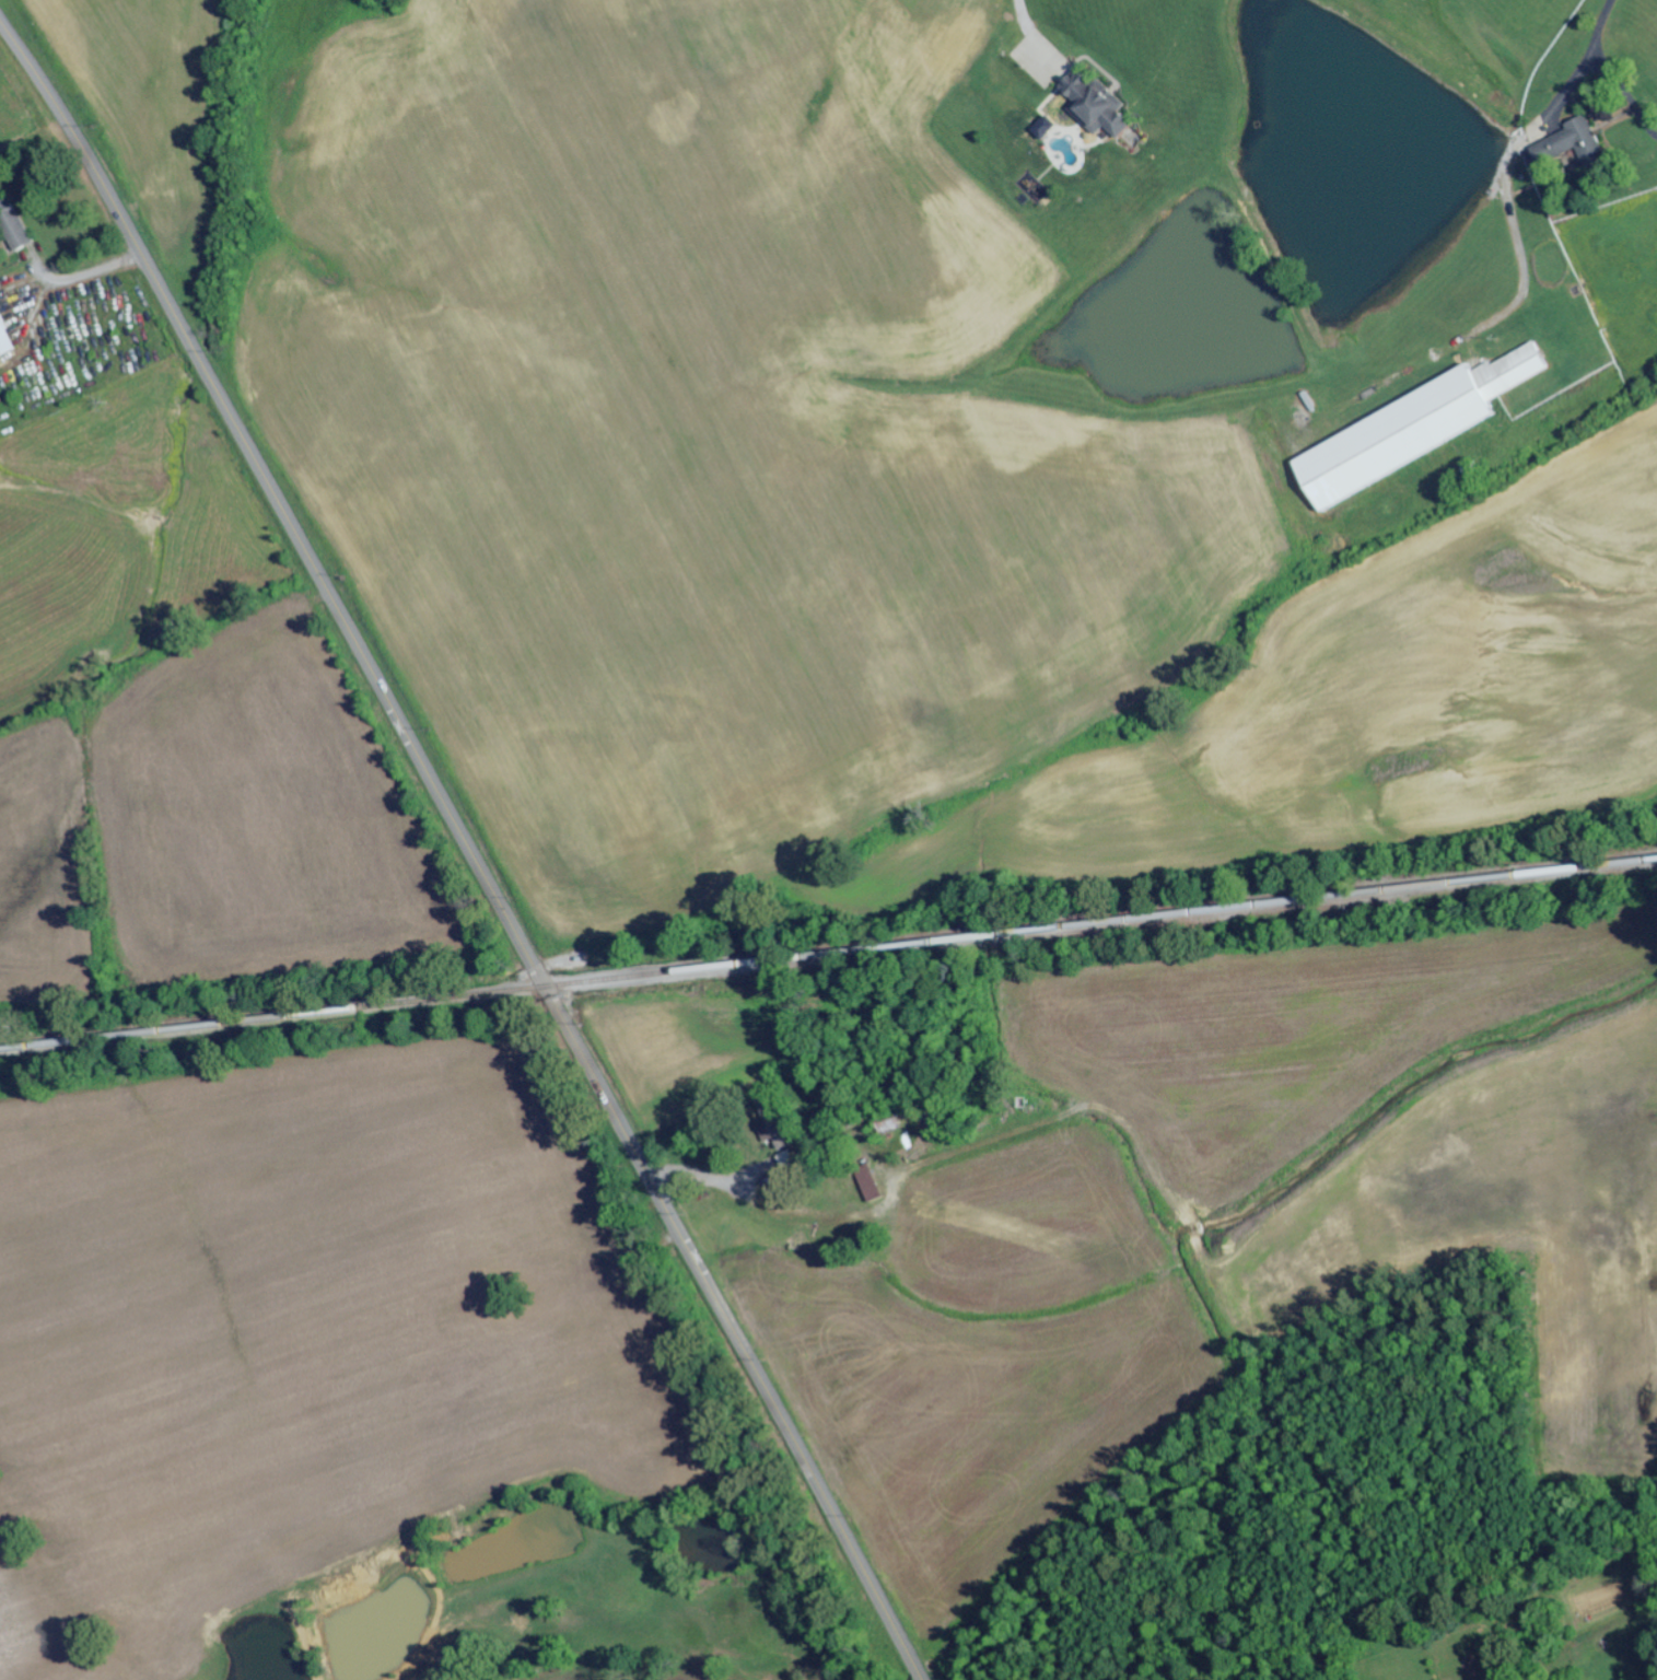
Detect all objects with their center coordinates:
building: (1094, 105)
building: (1577, 142)
building: (21, 227)
building: (7, 336)
building: (1410, 429)
road: (466, 848)
railway: (828, 955)
building: (784, 1135)
building: (792, 1159)
building: (875, 1182)

